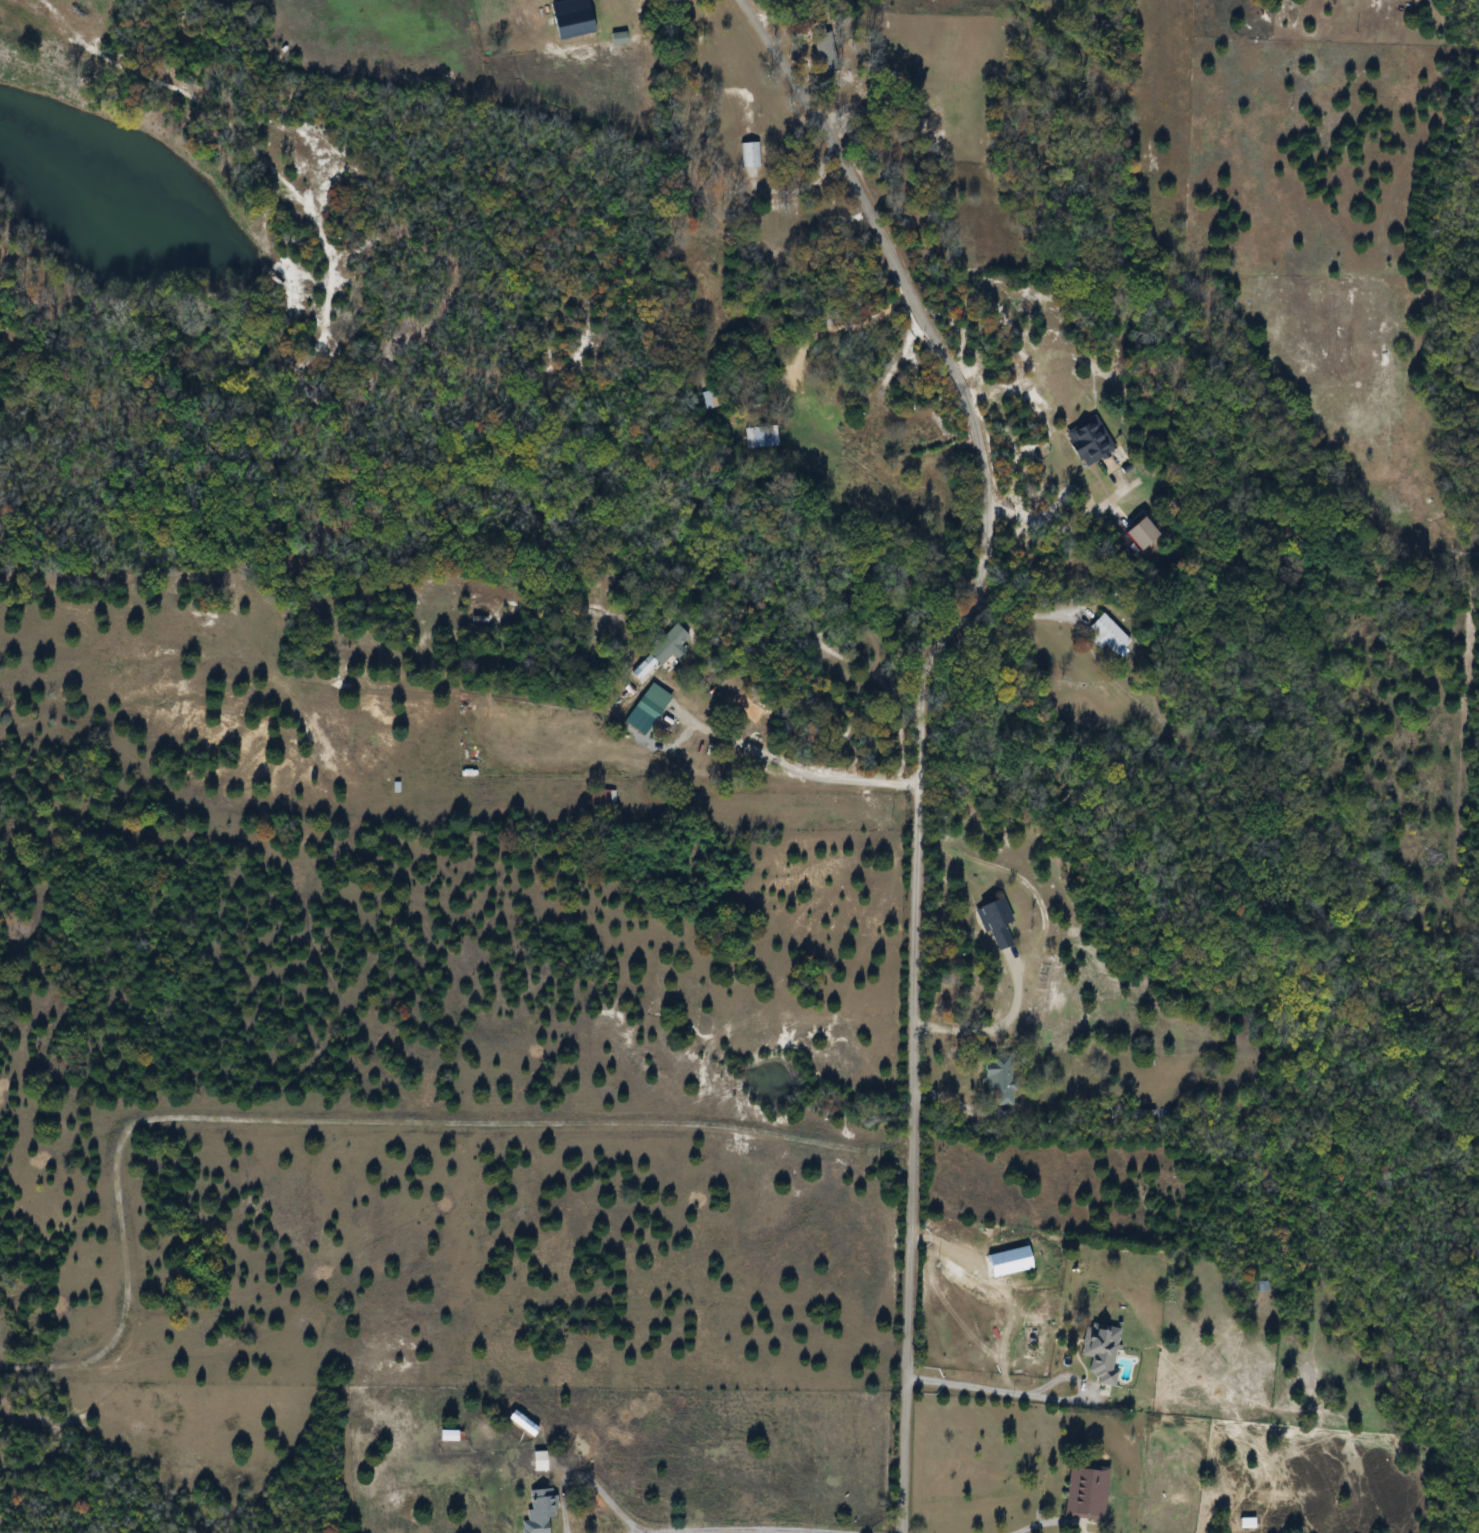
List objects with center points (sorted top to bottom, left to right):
building: (622, 39)
building: (823, 49)
building: (752, 156)
building: (713, 403)
road: (807, 412)
building: (764, 438)
building: (1093, 440)
building: (824, 453)
road: (1058, 522)
road: (1016, 611)
building: (1111, 635)
building: (671, 646)
road: (932, 733)
road: (792, 766)
building: (604, 799)
road: (1019, 875)
building: (1000, 924)
road: (987, 1028)
building: (1003, 1080)
building: (1153, 1115)
road: (347, 1120)
building: (1105, 1352)
road: (1028, 1396)
building: (452, 1436)
building: (544, 1462)
road: (586, 1478)
building: (1090, 1493)
building: (543, 1511)
road: (1050, 1522)
building: (1251, 1524)
road: (765, 1528)

